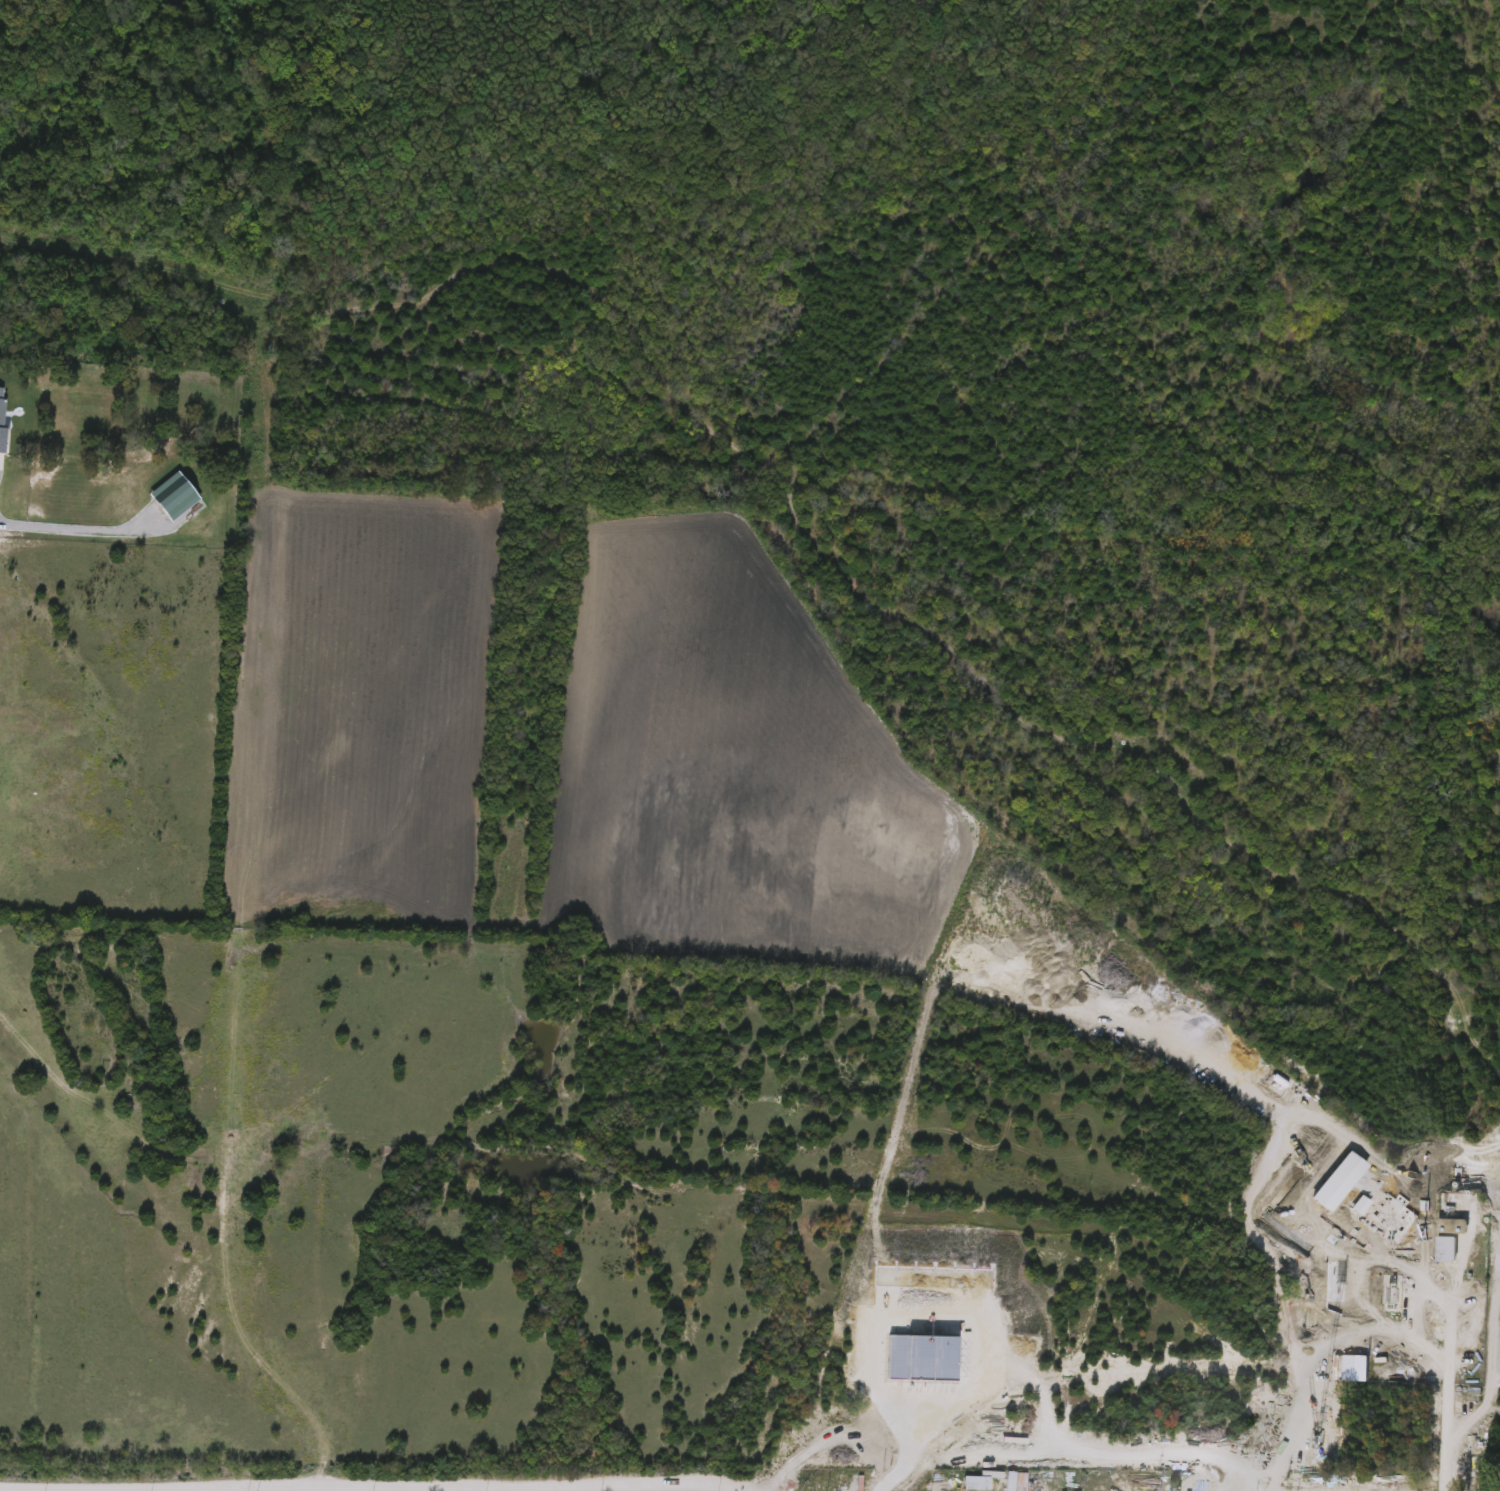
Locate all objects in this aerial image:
building: (1452, 1226)
building: (1445, 1249)
road: (1403, 1312)
road: (1444, 1380)
road: (375, 1483)
building: (975, 1484)
building: (1009, 1487)

